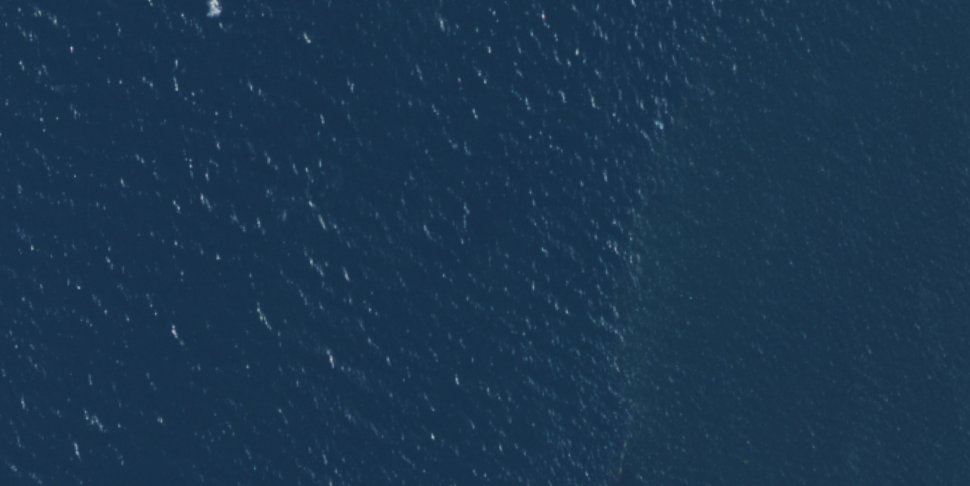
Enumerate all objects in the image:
river: (317, 245)

